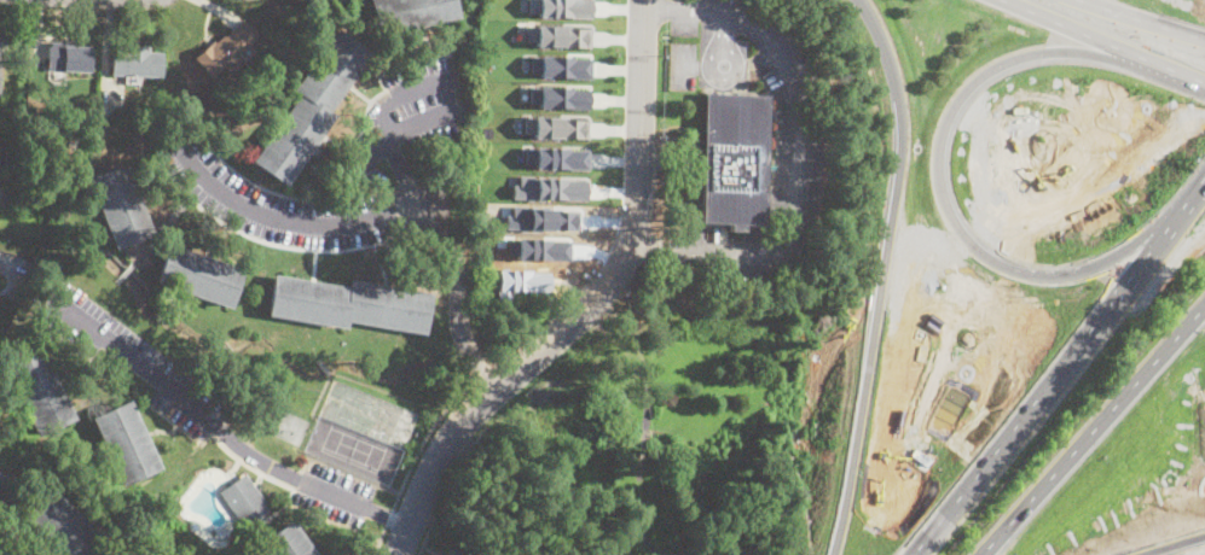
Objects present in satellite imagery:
building: (560, 7)
road: (660, 11)
road: (1099, 11)
building: (410, 13)
road: (1062, 18)
road: (1159, 19)
traffic signals: (1078, 24)
building: (557, 35)
traffic signals: (1135, 45)
building: (219, 53)
road: (1155, 53)
building: (1, 57)
building: (69, 57)
building: (135, 62)
parking lot: (682, 64)
road: (690, 64)
building: (560, 65)
road: (448, 80)
road: (723, 80)
building: (560, 97)
road: (1049, 100)
parking lot: (417, 105)
building: (312, 106)
building: (555, 127)
parking lot: (800, 132)
building: (0, 152)
road: (369, 154)
building: (556, 157)
building: (734, 159)
parking lot: (364, 163)
road: (405, 174)
road: (798, 177)
parking lot: (273, 203)
building: (122, 206)
road: (410, 209)
road: (280, 220)
building: (199, 275)
road: (939, 276)
building: (19, 285)
road: (458, 297)
building: (349, 303)
road: (585, 304)
parking lot: (135, 358)
road: (1060, 372)
road: (479, 378)
building: (40, 391)
park: (366, 413)
road: (207, 417)
road: (1091, 430)
building: (126, 443)
park: (352, 449)
road: (462, 460)
road: (413, 461)
parking lot: (332, 492)
building: (6, 493)
building: (244, 501)
road: (388, 518)
building: (63, 526)
building: (285, 542)
road: (1165, 542)
building: (454, 551)

